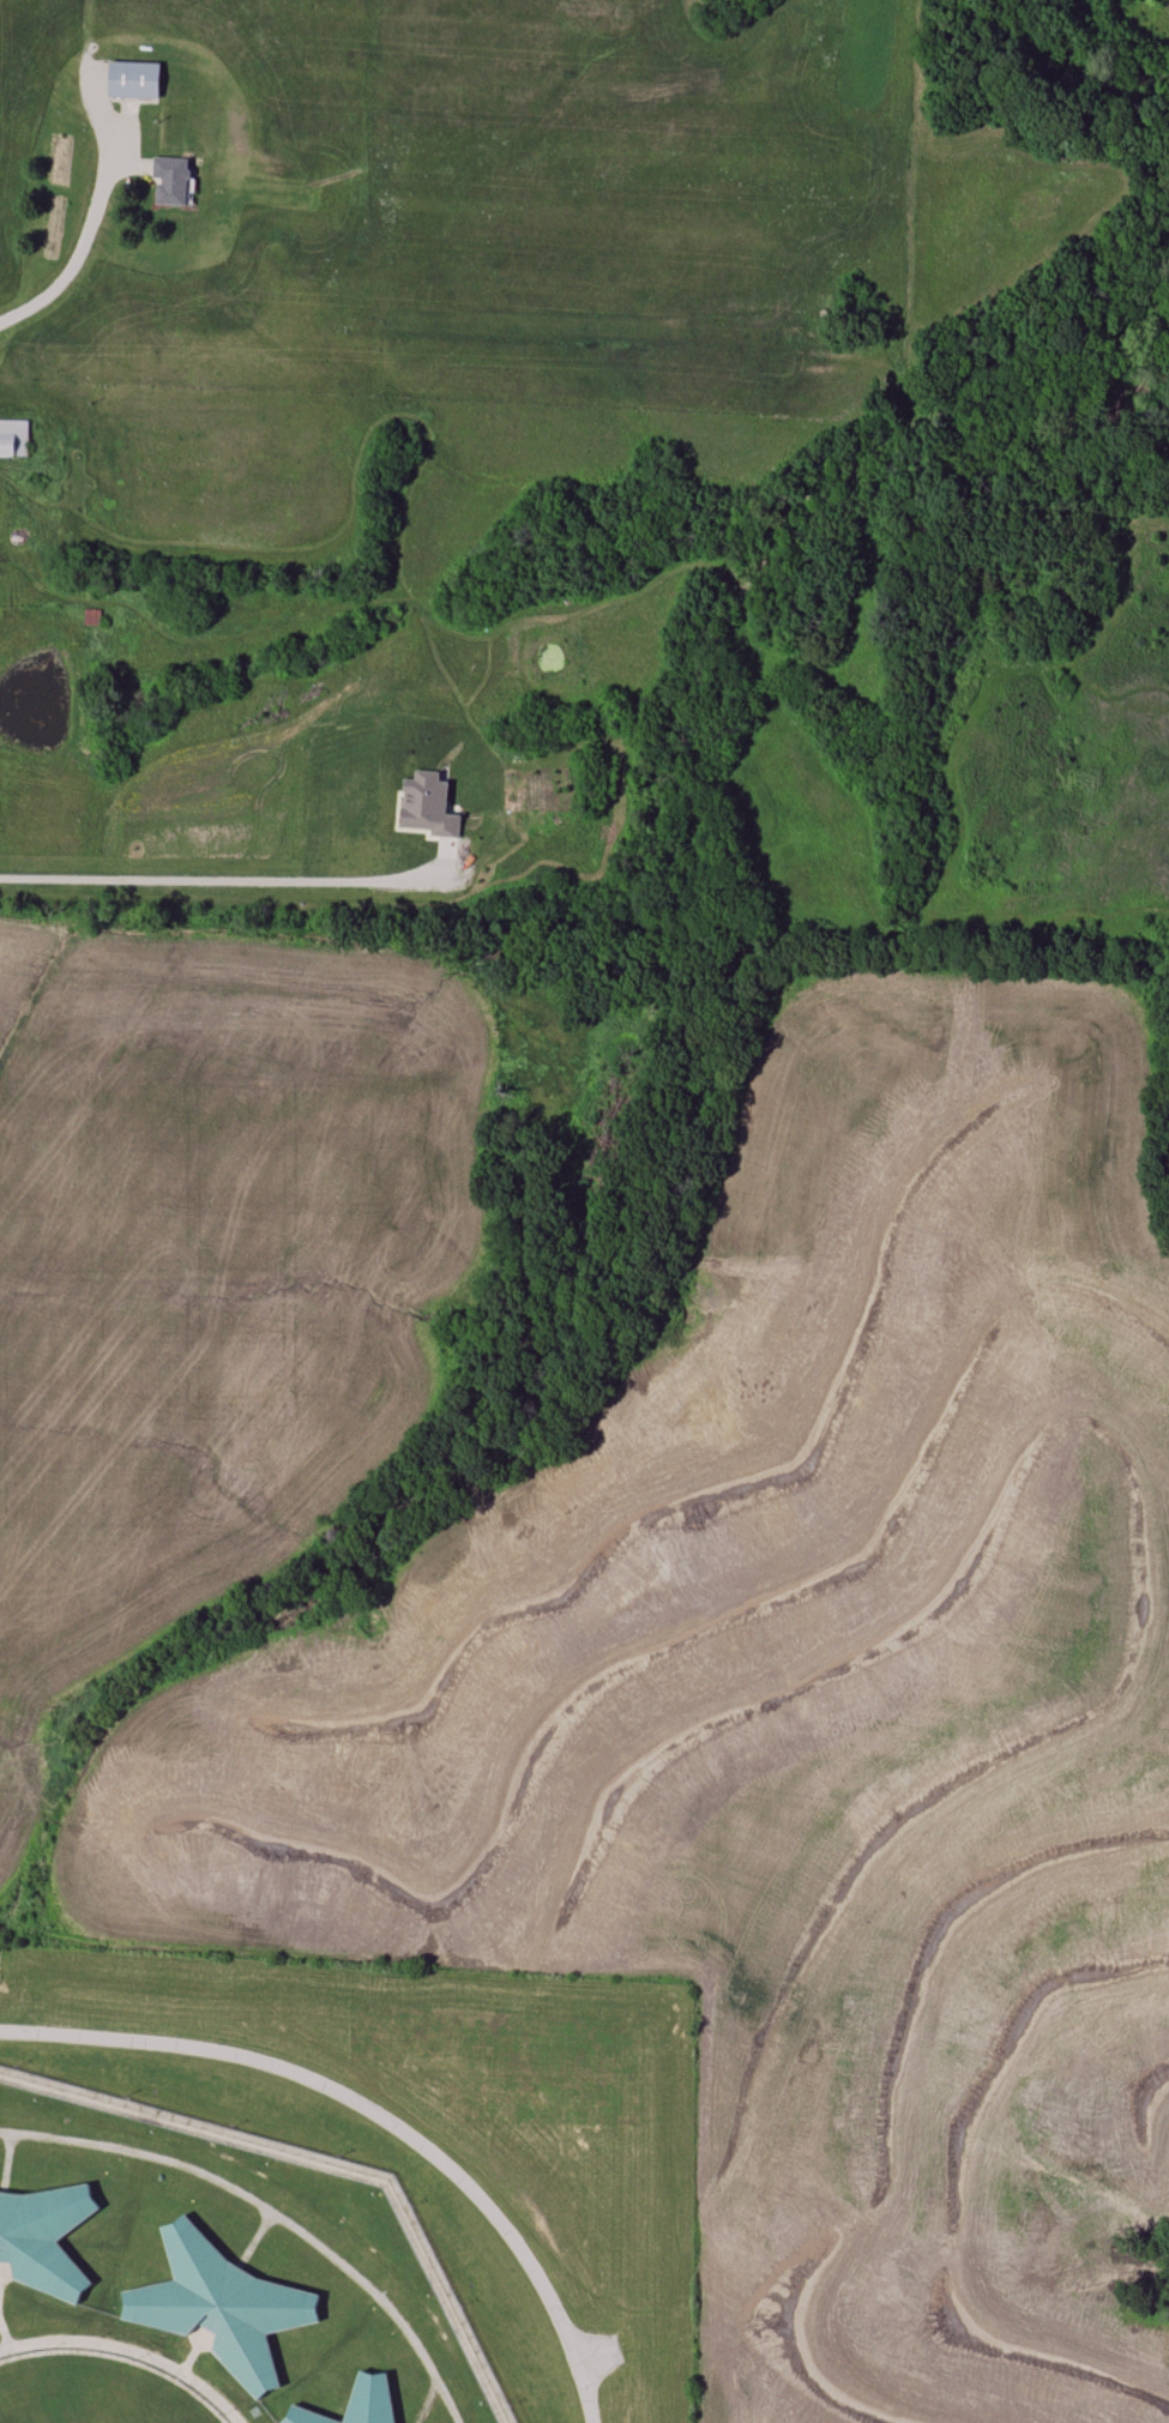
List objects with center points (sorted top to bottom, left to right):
river: (1074, 77)
building: (134, 79)
building: (171, 181)
road: (80, 253)
building: (13, 439)
road: (233, 879)
road: (375, 2114)
road: (267, 2213)
building: (44, 2235)
road: (0, 2262)
building: (219, 2303)
road: (2, 2339)
road: (191, 2349)
road: (128, 2350)
road: (596, 2351)
park: (90, 2392)
building: (350, 2405)

